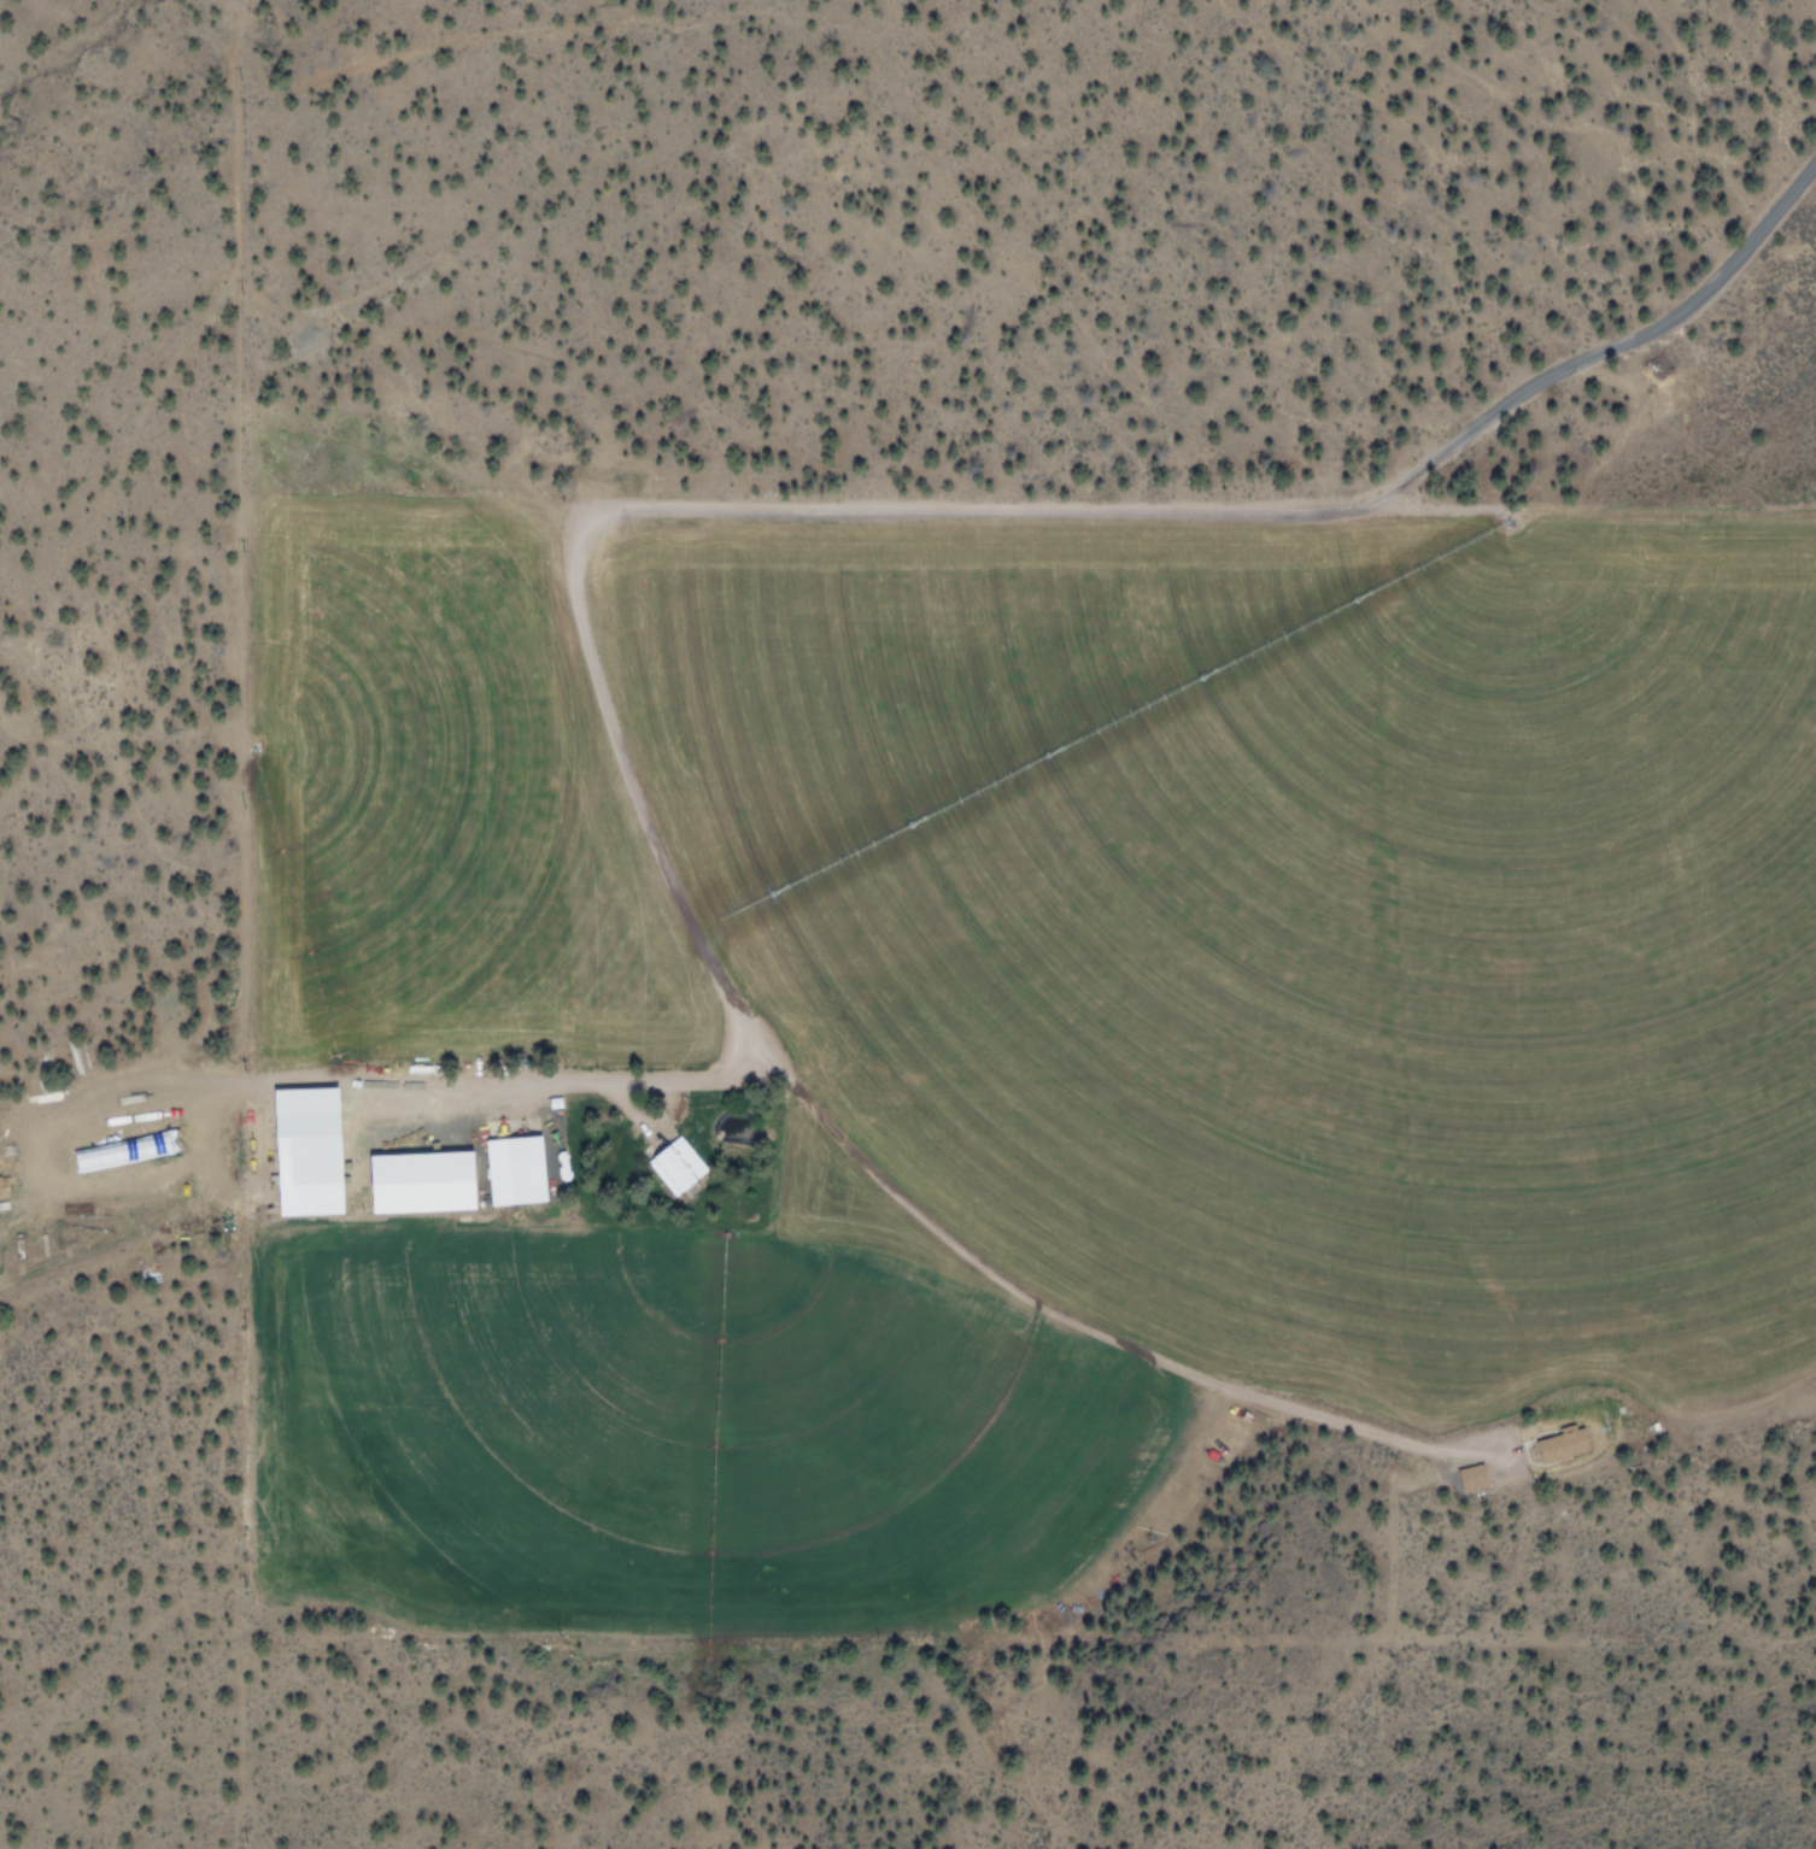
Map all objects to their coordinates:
road: (1044, 874)
building: (128, 1149)
building: (312, 1150)
building: (676, 1166)
building: (516, 1169)
building: (426, 1181)
building: (1563, 1443)
building: (1474, 1475)

